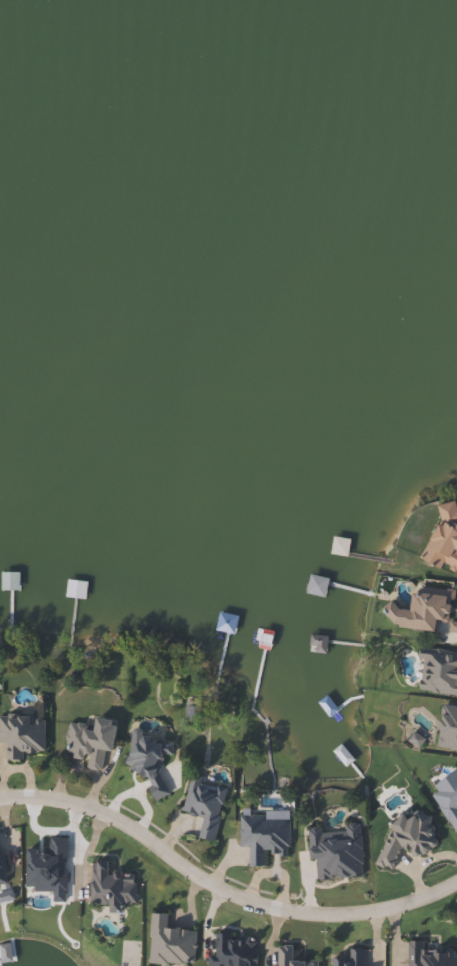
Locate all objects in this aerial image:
building: (64, 198)
building: (441, 539)
building: (335, 546)
building: (8, 581)
building: (415, 611)
building: (445, 724)
building: (18, 734)
building: (85, 740)
building: (146, 761)
building: (199, 806)
building: (402, 835)
building: (258, 836)
building: (330, 849)
road: (220, 874)
building: (0, 879)
building: (106, 884)
building: (166, 942)
building: (228, 950)
building: (426, 955)
building: (285, 957)
building: (345, 958)

